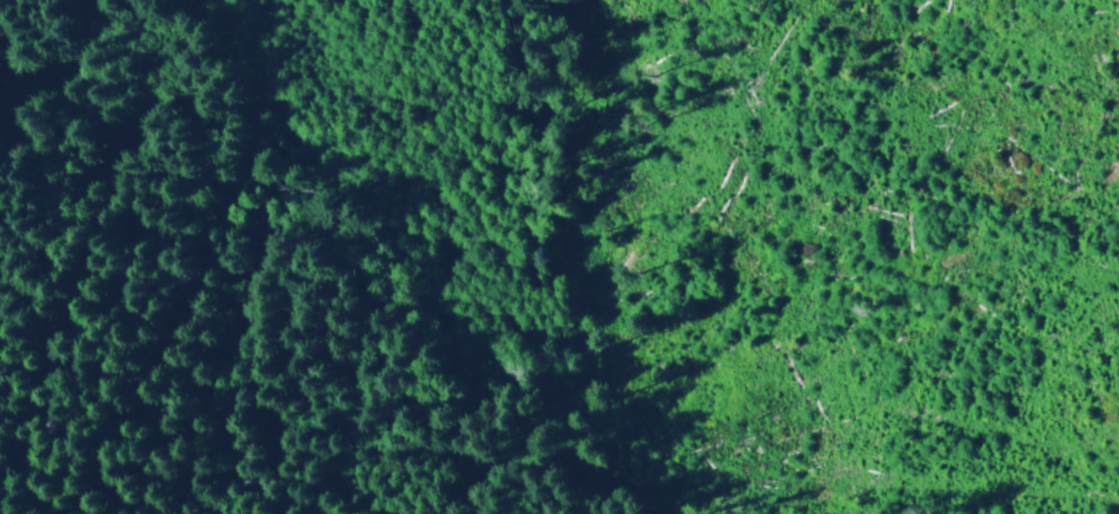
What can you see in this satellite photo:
road: (26, 33)

